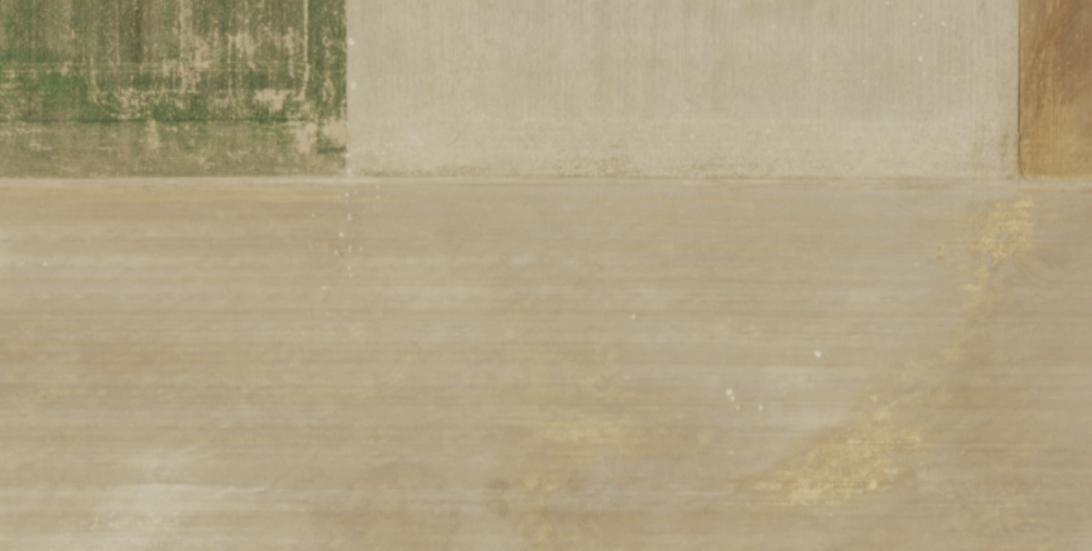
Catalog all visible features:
crop: (550, 89)

